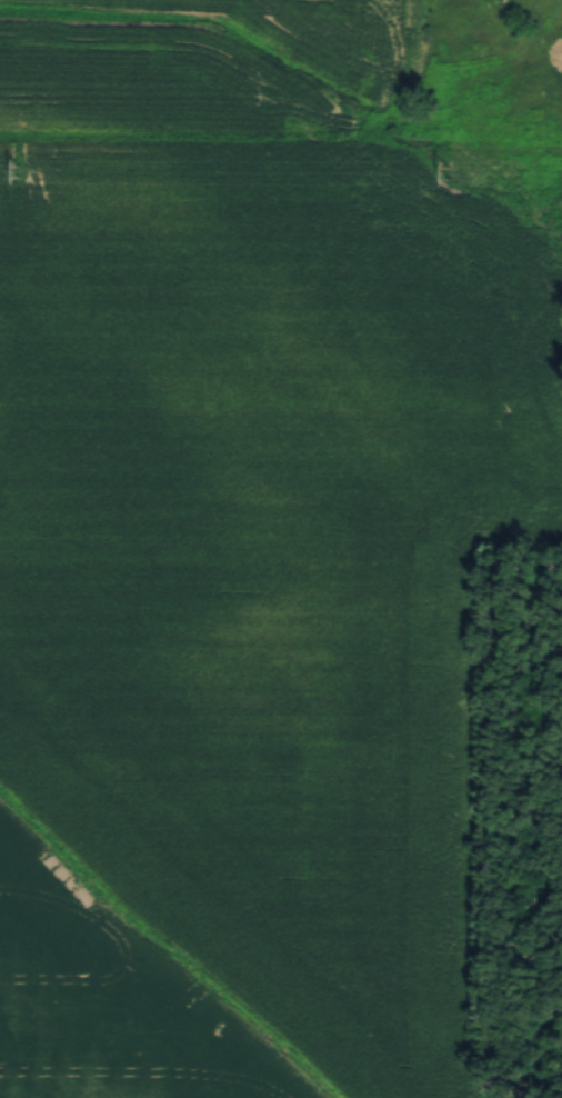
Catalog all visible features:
power tower: (20, 168)
power tower: (450, 170)

